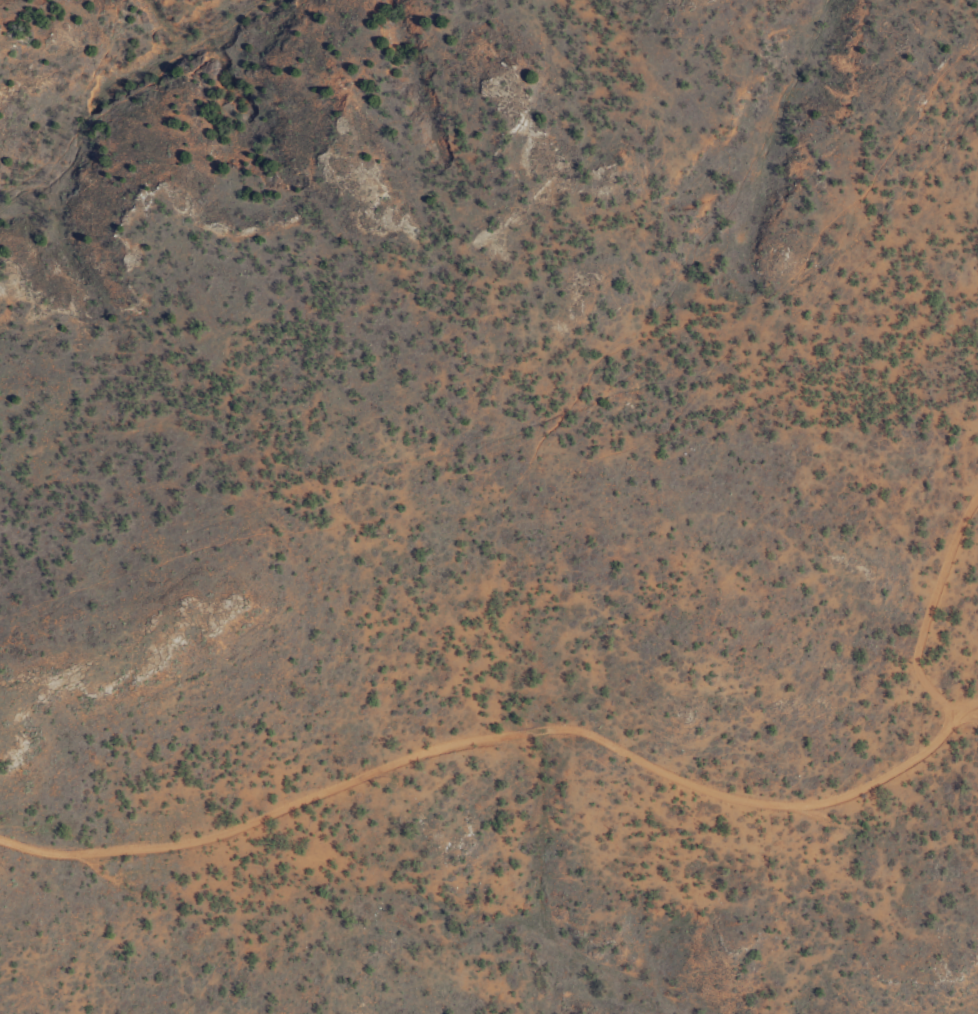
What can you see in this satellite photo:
road: (501, 732)

